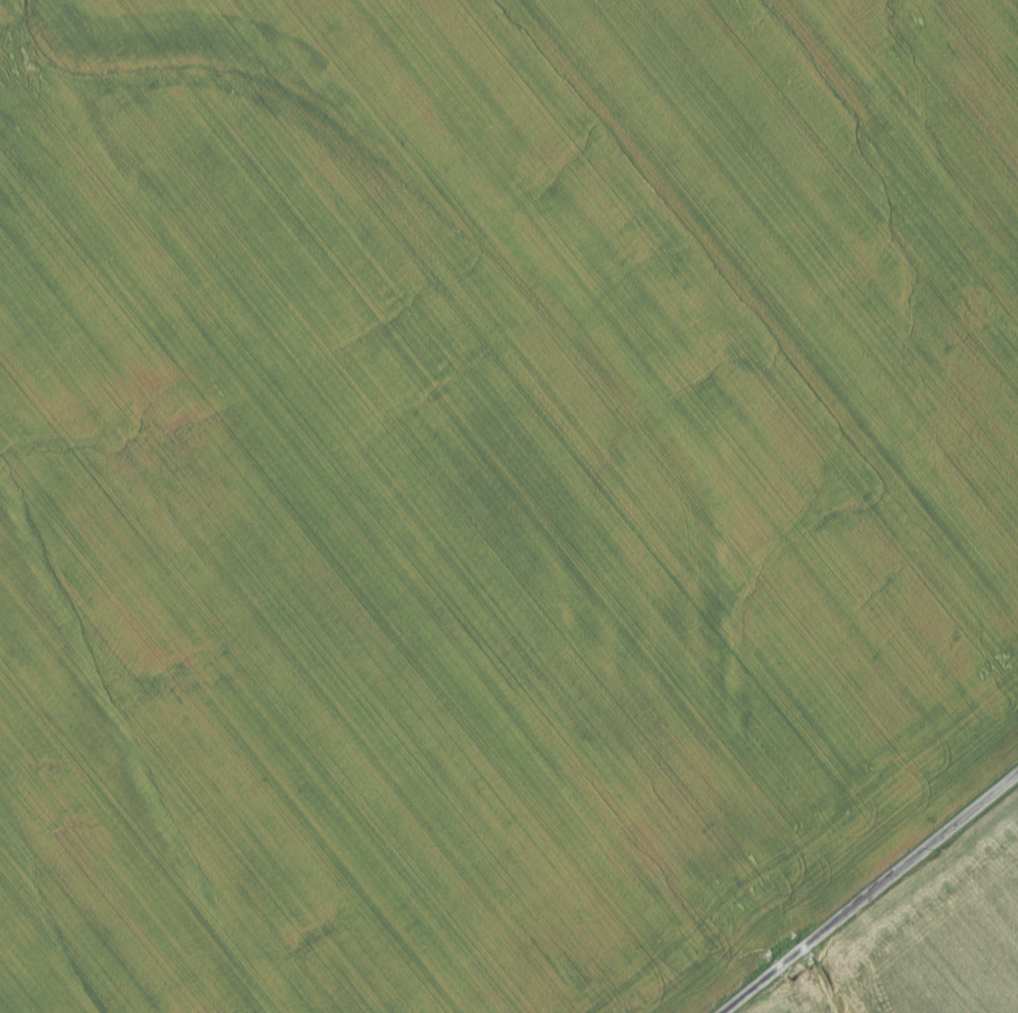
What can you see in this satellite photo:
road: (864, 887)

